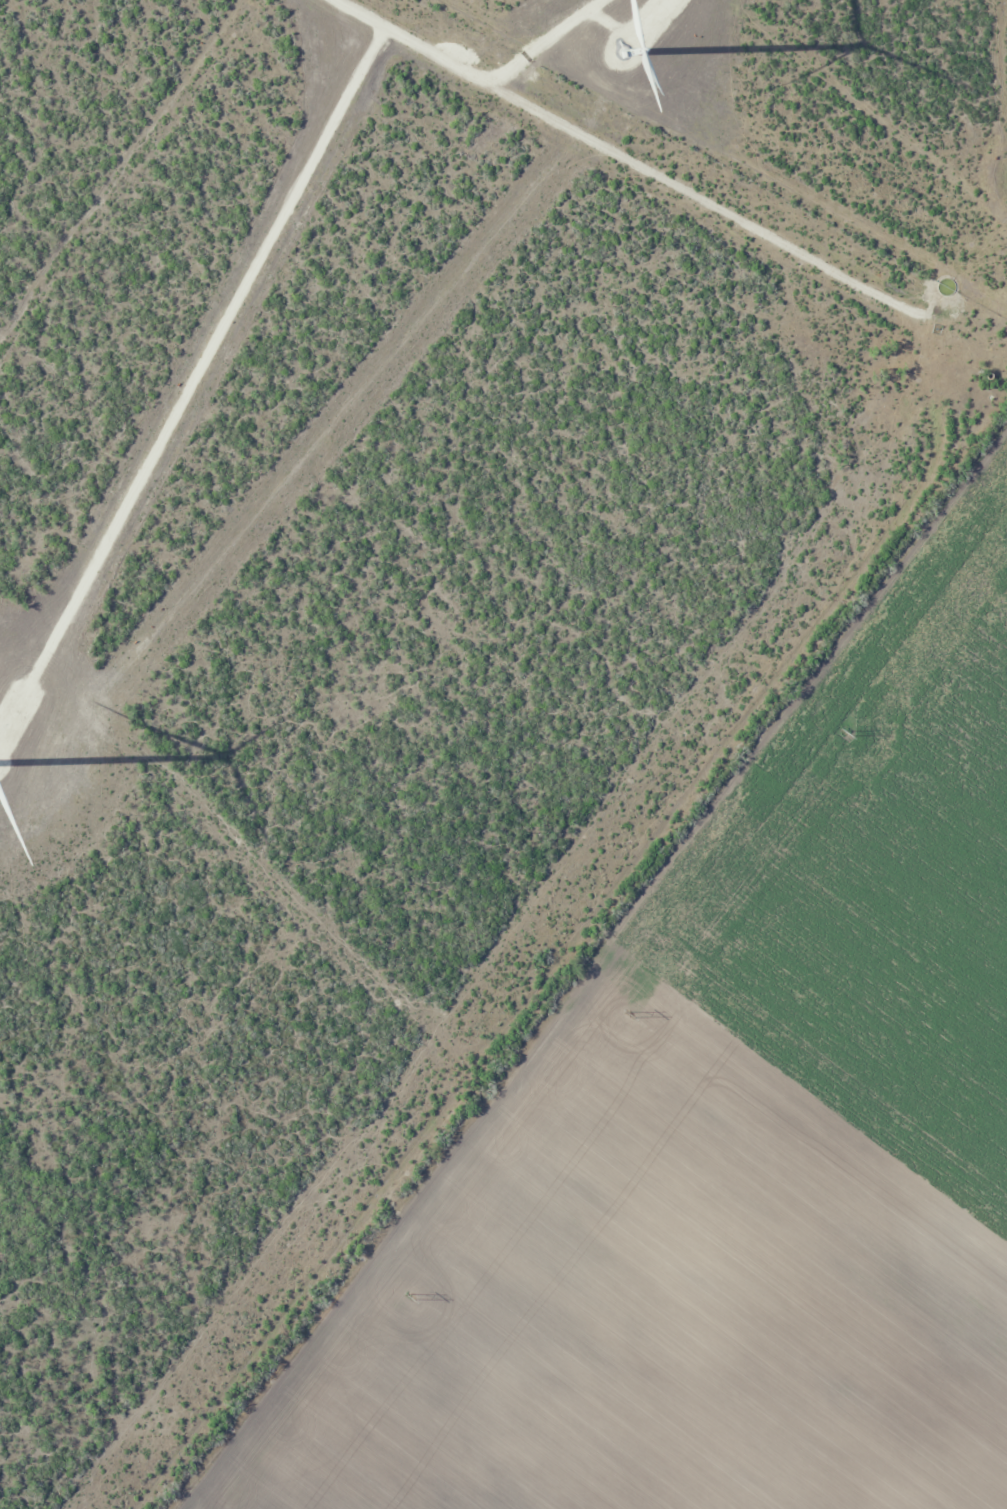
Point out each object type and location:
wind turbine: (614, 49)
road: (858, 643)
power tower: (848, 732)
power tower: (631, 1013)
power tower: (413, 1296)

